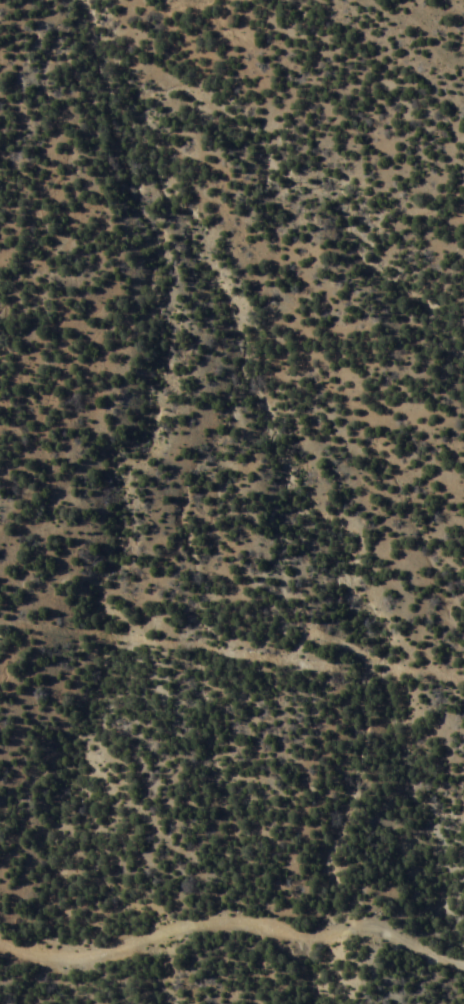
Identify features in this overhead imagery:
road: (229, 959)

